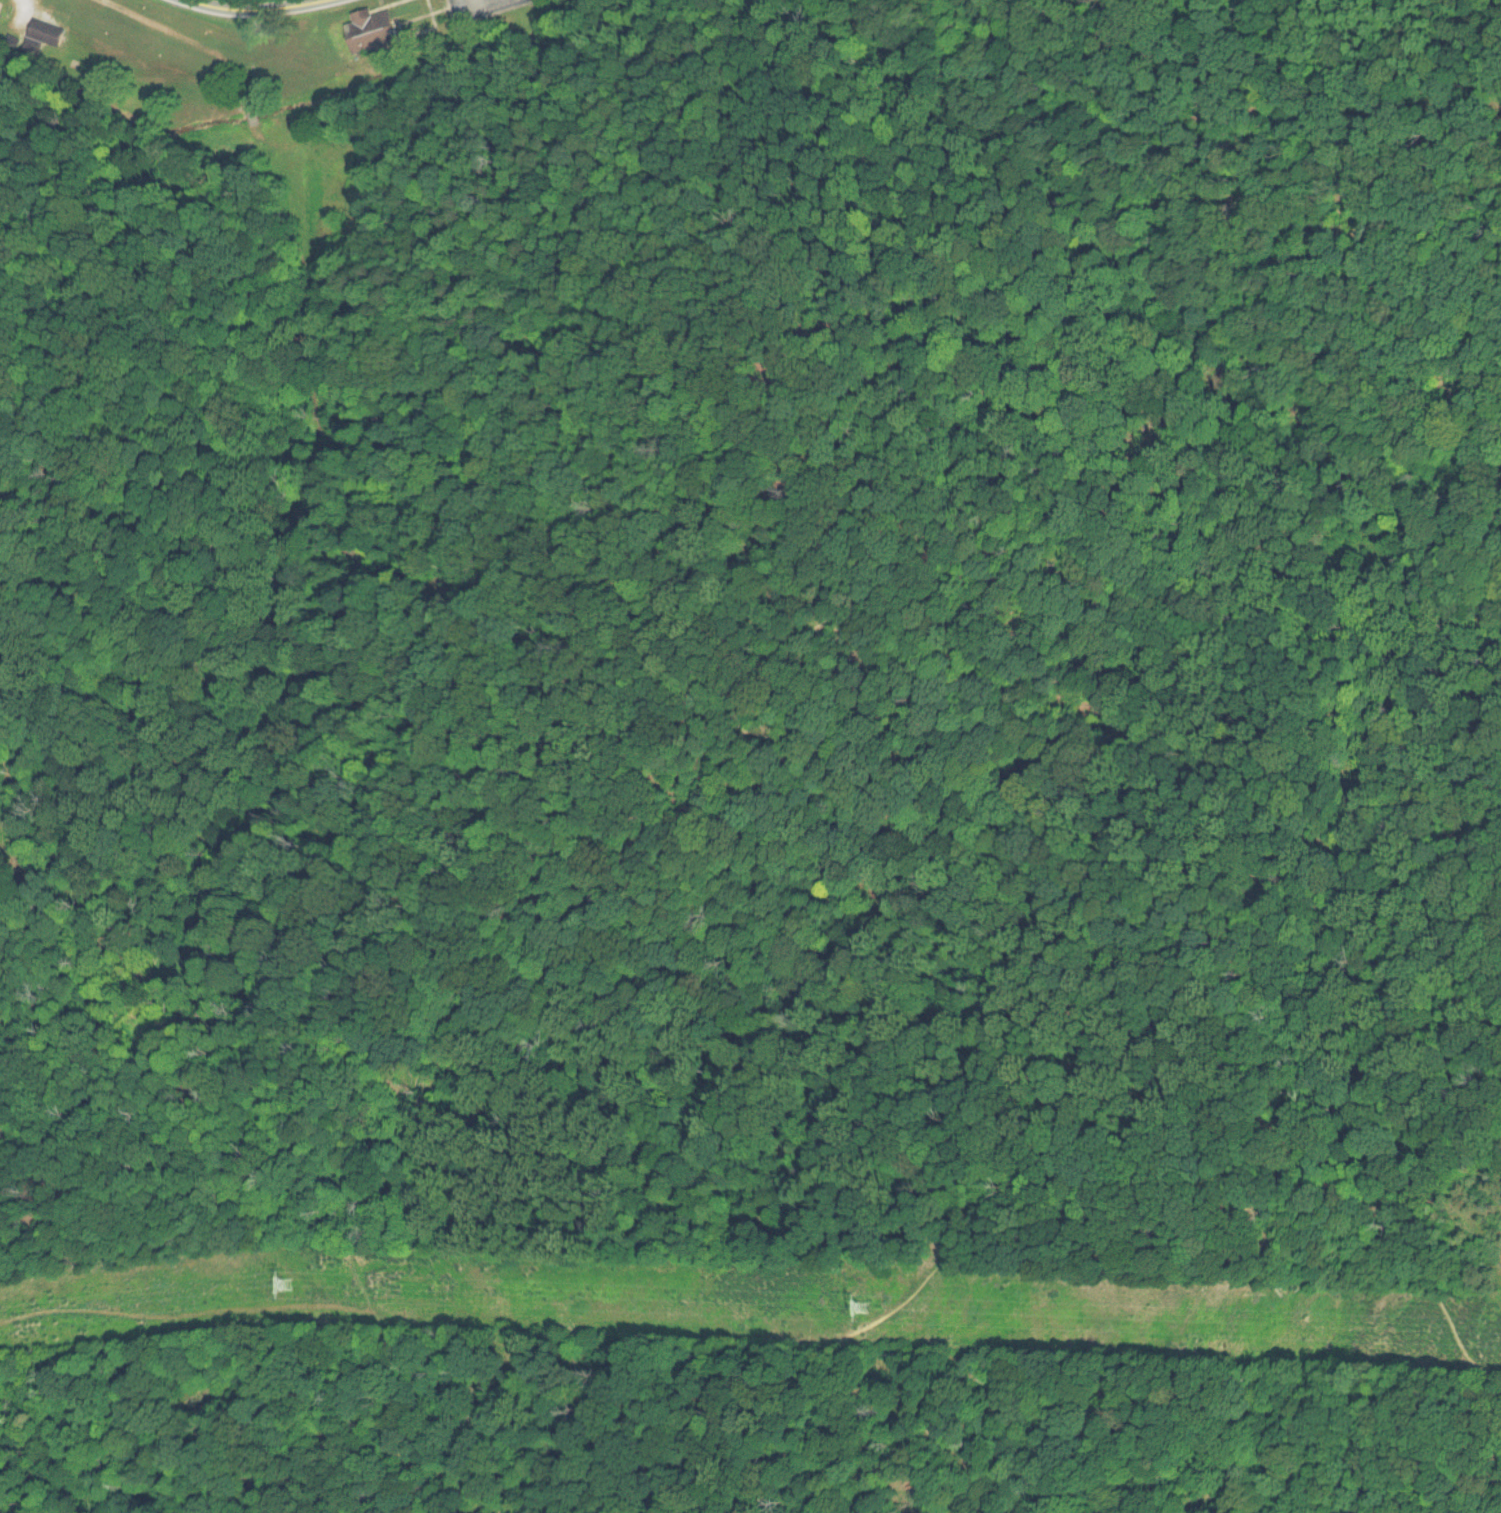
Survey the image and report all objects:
road: (277, 6)
parking lot: (471, 7)
road: (157, 26)
building: (369, 30)
building: (44, 31)
road: (375, 67)
road: (865, 513)
road: (413, 975)
road: (1082, 1191)
road: (336, 1192)
road: (1346, 1203)
road: (191, 1311)
road: (348, 1403)
road: (541, 1418)

